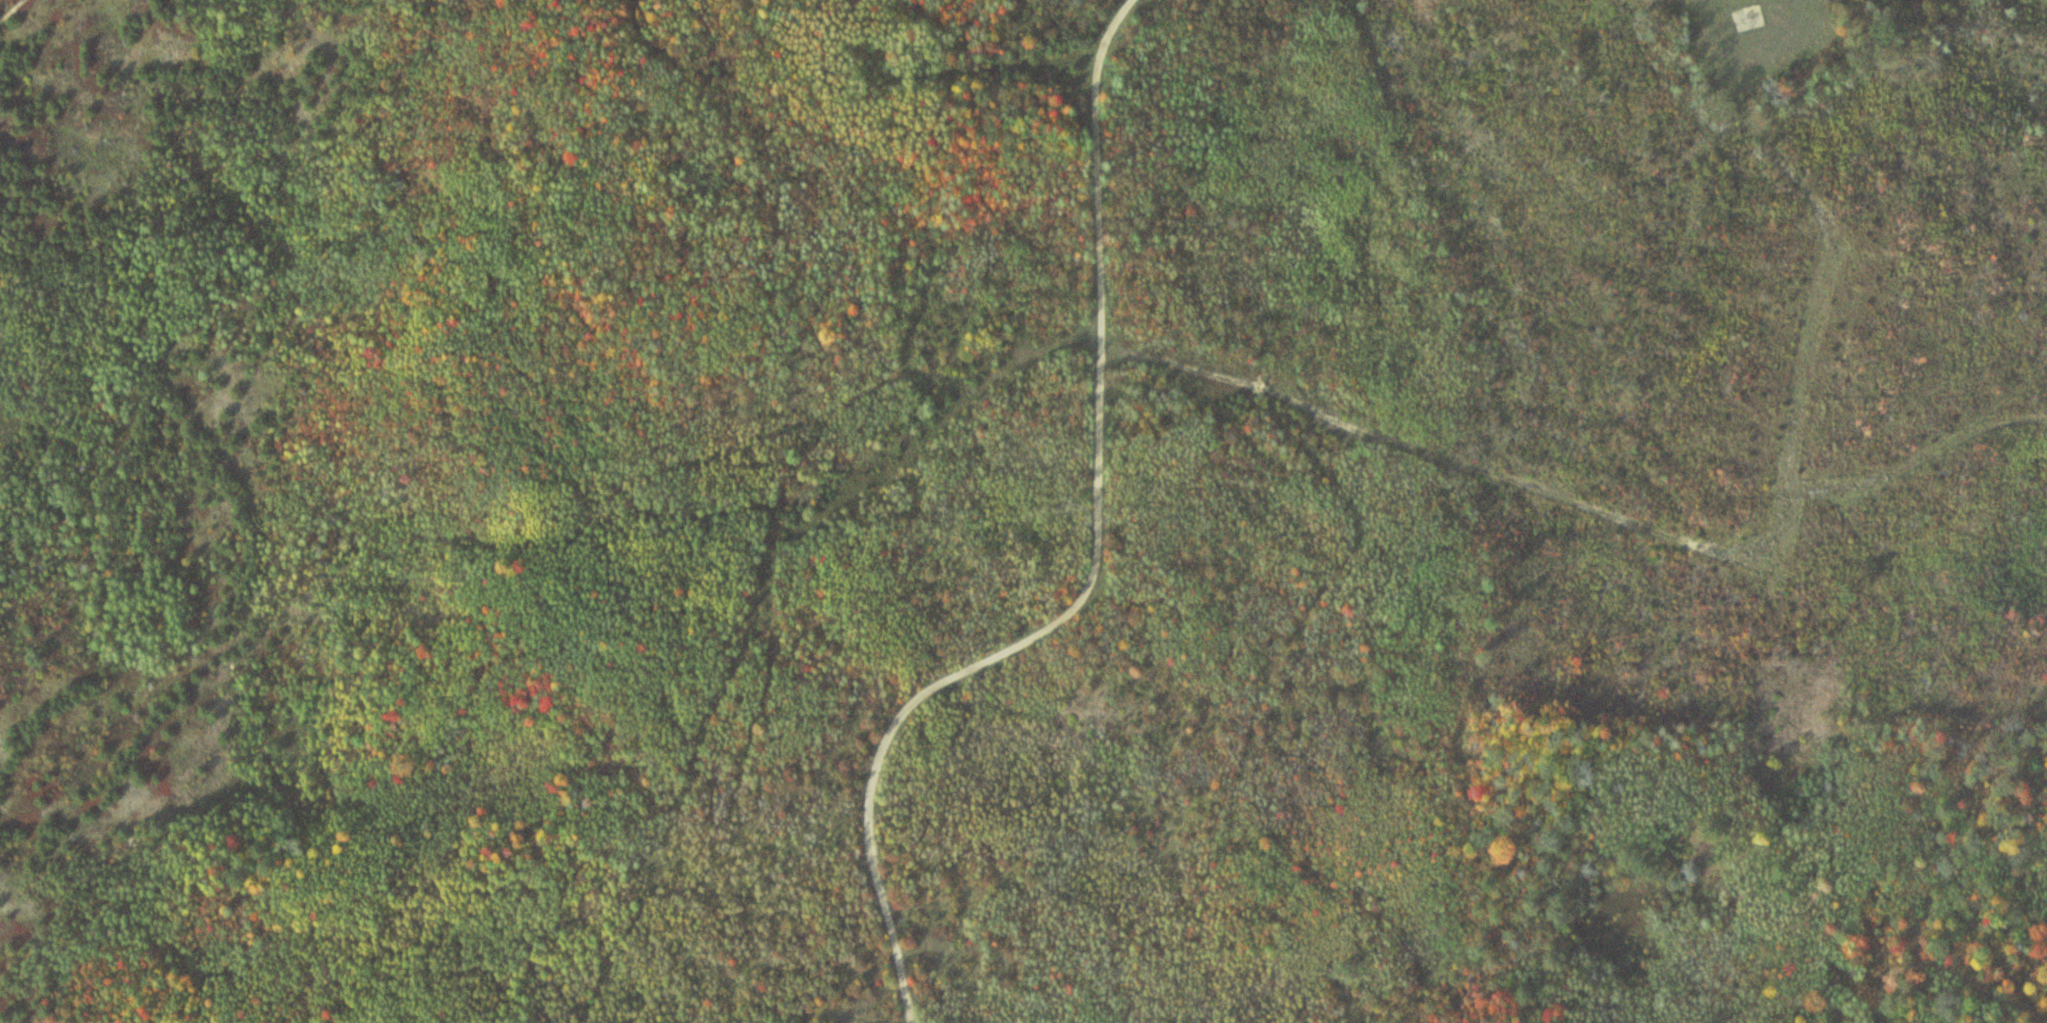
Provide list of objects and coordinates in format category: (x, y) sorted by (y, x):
road: (9, 8)
road: (1103, 567)

